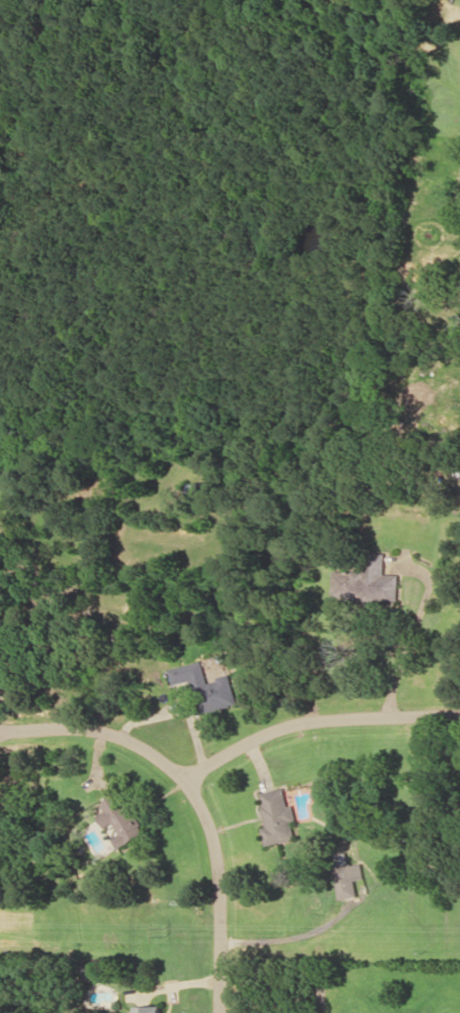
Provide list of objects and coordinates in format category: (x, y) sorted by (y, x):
building: (367, 580)
building: (206, 686)
road: (314, 721)
road: (194, 797)
building: (278, 816)
building: (347, 876)
power tower: (165, 929)
building: (150, 1008)

